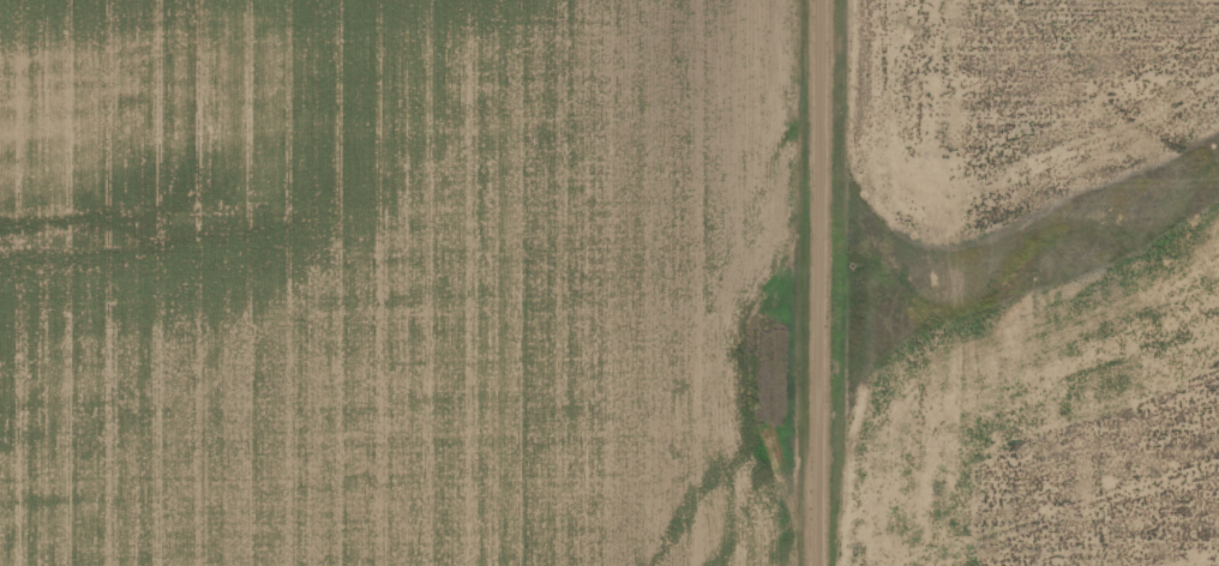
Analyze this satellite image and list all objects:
road: (824, 283)

